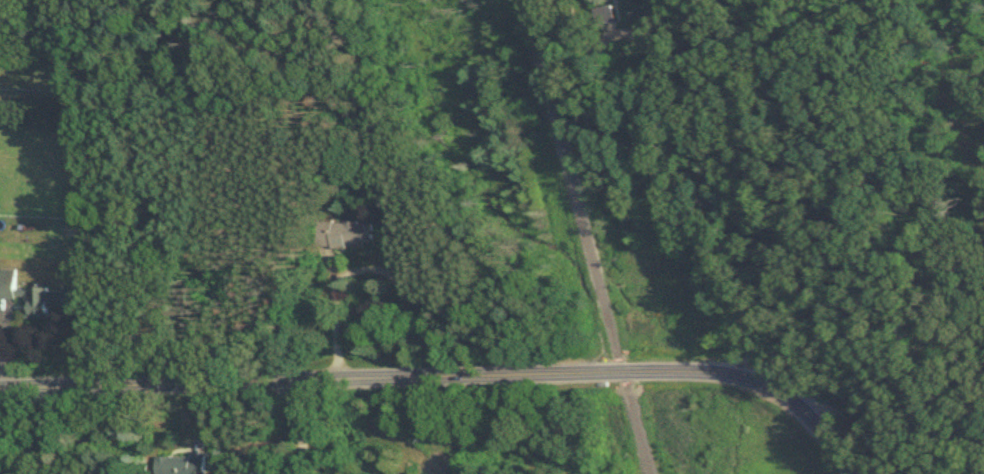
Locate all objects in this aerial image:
building: (605, 14)
road: (613, 99)
road: (677, 192)
building: (342, 234)
road: (587, 236)
road: (369, 269)
building: (31, 296)
road: (445, 376)
road: (300, 427)
building: (181, 465)

